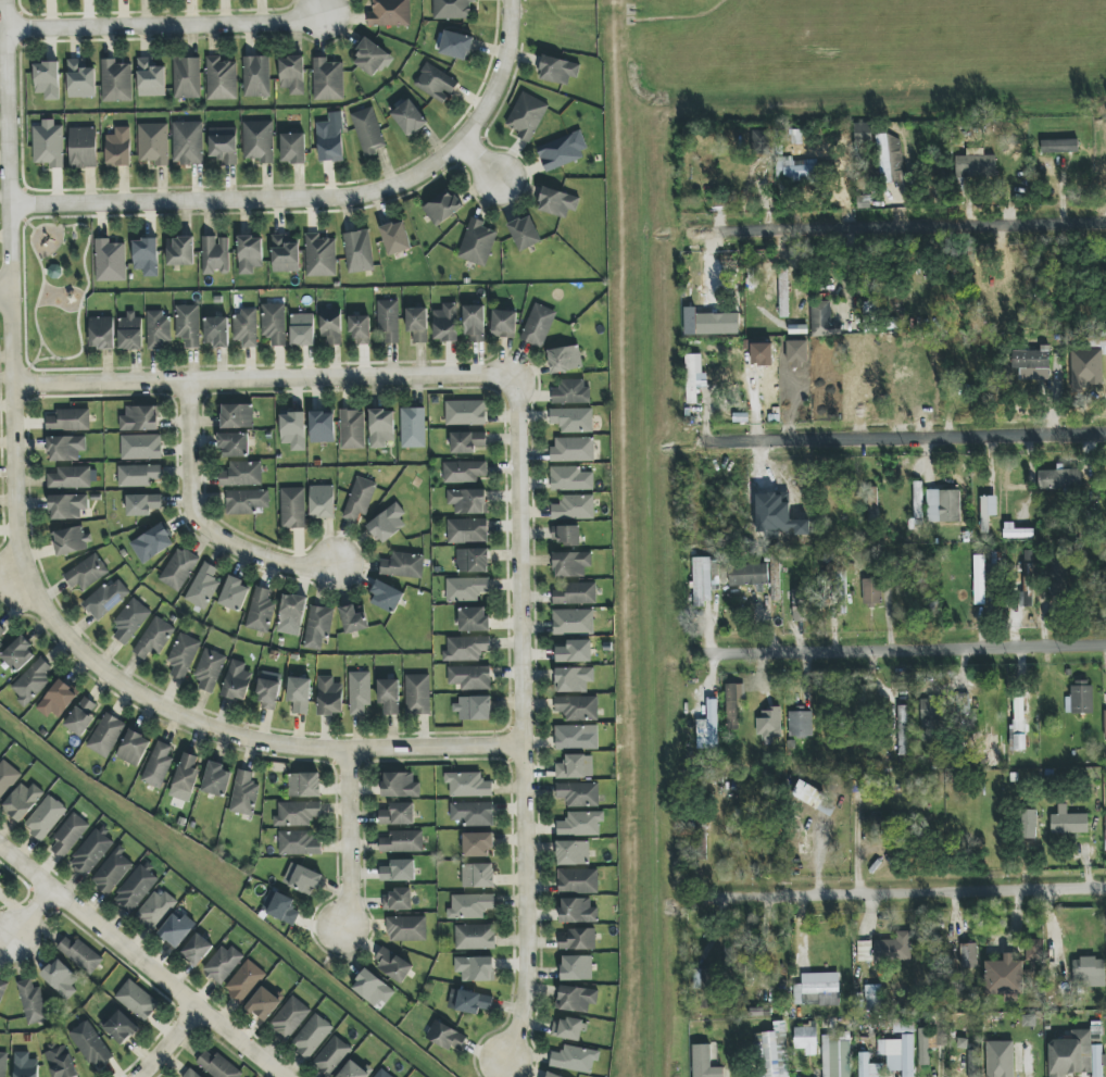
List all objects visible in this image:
building: (452, 9)
building: (389, 13)
road: (166, 28)
building: (456, 46)
building: (372, 58)
building: (558, 71)
road: (493, 74)
building: (292, 75)
building: (256, 76)
building: (151, 78)
building: (187, 78)
building: (80, 79)
building: (221, 79)
building: (327, 79)
building: (48, 80)
building: (116, 82)
building: (435, 83)
building: (527, 116)
building: (410, 118)
building: (368, 132)
building: (863, 134)
building: (796, 137)
building: (259, 141)
building: (188, 142)
building: (329, 142)
building: (761, 142)
building: (48, 143)
building: (153, 143)
building: (224, 145)
building: (1059, 146)
building: (83, 148)
building: (118, 148)
building: (293, 148)
building: (563, 150)
building: (890, 159)
road: (480, 162)
building: (976, 166)
building: (799, 170)
road: (244, 201)
building: (557, 202)
building: (442, 208)
road: (908, 228)
building: (525, 233)
building: (395, 238)
building: (477, 242)
building: (180, 251)
building: (359, 251)
building: (286, 253)
building: (250, 254)
building: (215, 255)
building: (321, 255)
building: (146, 256)
building: (110, 261)
road: (5, 291)
building: (783, 292)
building: (822, 320)
building: (388, 321)
building: (274, 323)
building: (447, 323)
building: (474, 323)
building: (417, 324)
building: (504, 324)
building: (717, 324)
building: (188, 325)
building: (538, 325)
building: (331, 327)
building: (246, 328)
building: (159, 329)
building: (302, 329)
building: (361, 329)
building: (130, 331)
building: (216, 331)
building: (101, 333)
building: (565, 359)
building: (1031, 363)
building: (1085, 370)
building: (694, 377)
road: (263, 379)
building: (571, 391)
building: (465, 413)
building: (237, 416)
building: (139, 418)
building: (70, 419)
building: (573, 419)
building: (322, 427)
building: (413, 427)
building: (381, 428)
building: (352, 429)
building: (293, 430)
road: (905, 439)
building: (467, 441)
building: (234, 444)
building: (141, 447)
building: (66, 448)
building: (573, 450)
building: (464, 472)
building: (242, 474)
building: (138, 475)
building: (70, 477)
building: (570, 479)
building: (1061, 479)
building: (360, 499)
building: (247, 501)
building: (468, 501)
building: (917, 501)
building: (322, 502)
building: (142, 504)
building: (943, 505)
building: (67, 506)
building: (293, 508)
building: (574, 508)
building: (988, 510)
building: (387, 523)
road: (200, 524)
building: (467, 530)
building: (1016, 531)
building: (565, 535)
building: (71, 541)
building: (152, 543)
building: (473, 561)
building: (571, 564)
building: (403, 565)
road: (20, 568)
building: (179, 569)
building: (87, 573)
building: (747, 575)
building: (980, 578)
building: (1056, 578)
building: (702, 580)
building: (1028, 585)
building: (203, 587)
building: (466, 589)
building: (871, 592)
building: (575, 593)
building: (235, 594)
building: (386, 597)
building: (106, 599)
building: (801, 605)
building: (261, 611)
building: (292, 611)
building: (353, 619)
building: (474, 619)
building: (130, 621)
building: (574, 622)
building: (318, 628)
building: (1, 630)
building: (154, 638)
building: (1, 644)
road: (904, 648)
building: (466, 649)
building: (575, 651)
building: (18, 654)
building: (183, 655)
building: (210, 669)
building: (470, 677)
building: (574, 679)
building: (32, 681)
building: (237, 681)
building: (268, 691)
building: (360, 692)
building: (299, 694)
building: (417, 694)
building: (389, 696)
building: (329, 697)
building: (1080, 698)
building: (58, 700)
building: (733, 704)
building: (474, 707)
building: (577, 707)
building: (930, 709)
building: (81, 716)
road: (518, 718)
building: (769, 723)
building: (801, 724)
building: (1018, 724)
building: (1105, 725)
building: (708, 726)
building: (902, 730)
building: (106, 736)
building: (575, 738)
building: (134, 748)
building: (158, 765)
building: (576, 767)
building: (187, 773)
building: (7, 778)
building: (216, 779)
building: (304, 785)
building: (399, 785)
building: (468, 785)
building: (244, 793)
building: (578, 794)
building: (23, 801)
building: (473, 813)
building: (297, 814)
building: (398, 814)
building: (45, 817)
building: (1068, 822)
building: (581, 824)
building: (1028, 824)
building: (1105, 831)
building: (68, 835)
road: (348, 840)
building: (402, 841)
building: (299, 843)
building: (477, 844)
building: (91, 852)
building: (573, 852)
building: (399, 871)
building: (112, 872)
building: (1, 875)
building: (478, 876)
building: (301, 879)
building: (578, 880)
building: (136, 888)
road: (907, 892)
building: (398, 900)
building: (470, 906)
building: (280, 907)
building: (155, 910)
building: (577, 911)
road: (36, 912)
building: (406, 928)
building: (176, 929)
building: (475, 937)
building: (578, 939)
building: (893, 948)
building: (197, 950)
building: (865, 951)
building: (79, 954)
building: (969, 955)
road: (146, 956)
building: (1032, 957)
building: (223, 964)
building: (392, 964)
building: (475, 968)
building: (576, 968)
building: (1089, 973)
building: (702, 978)
building: (1004, 978)
building: (61, 979)
building: (244, 981)
building: (373, 988)
building: (2, 989)
building: (817, 990)
building: (872, 998)
building: (576, 999)
building: (137, 1000)
building: (468, 1001)
building: (33, 1002)
building: (264, 1004)
building: (289, 1018)
building: (118, 1027)
building: (568, 1029)
building: (312, 1036)
building: (447, 1037)
building: (806, 1039)
road: (169, 1040)
building: (929, 1042)
building: (90, 1044)
building: (772, 1052)
building: (1076, 1055)
building: (332, 1056)
building: (835, 1057)
building: (575, 1059)
building: (1009, 1060)
building: (973, 1061)
building: (61, 1062)
building: (704, 1062)
building: (3, 1064)
building: (26, 1065)
building: (217, 1066)
building: (869, 1067)
building: (353, 1070)
building: (191, 1074)
building: (382, 1074)
building: (551, 1075)

